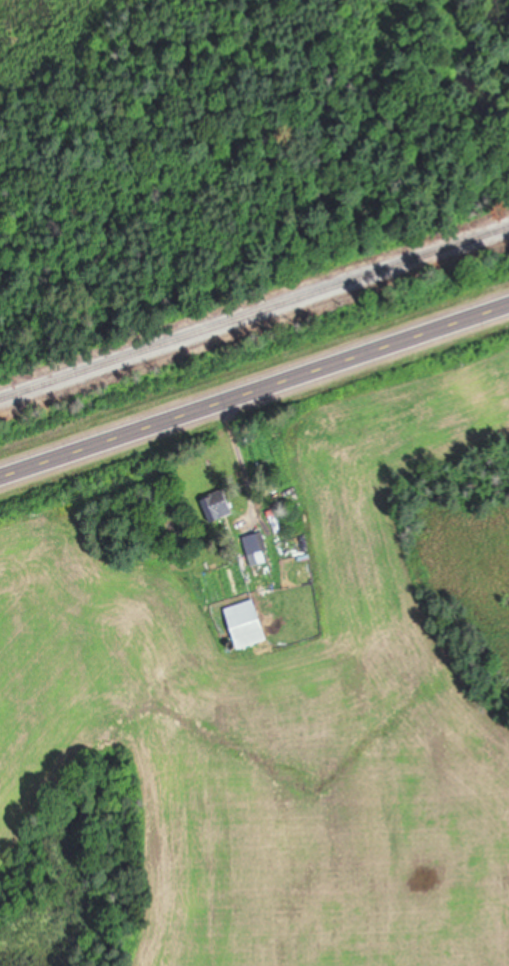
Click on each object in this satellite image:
railway: (254, 309)
road: (254, 387)
building: (249, 621)

